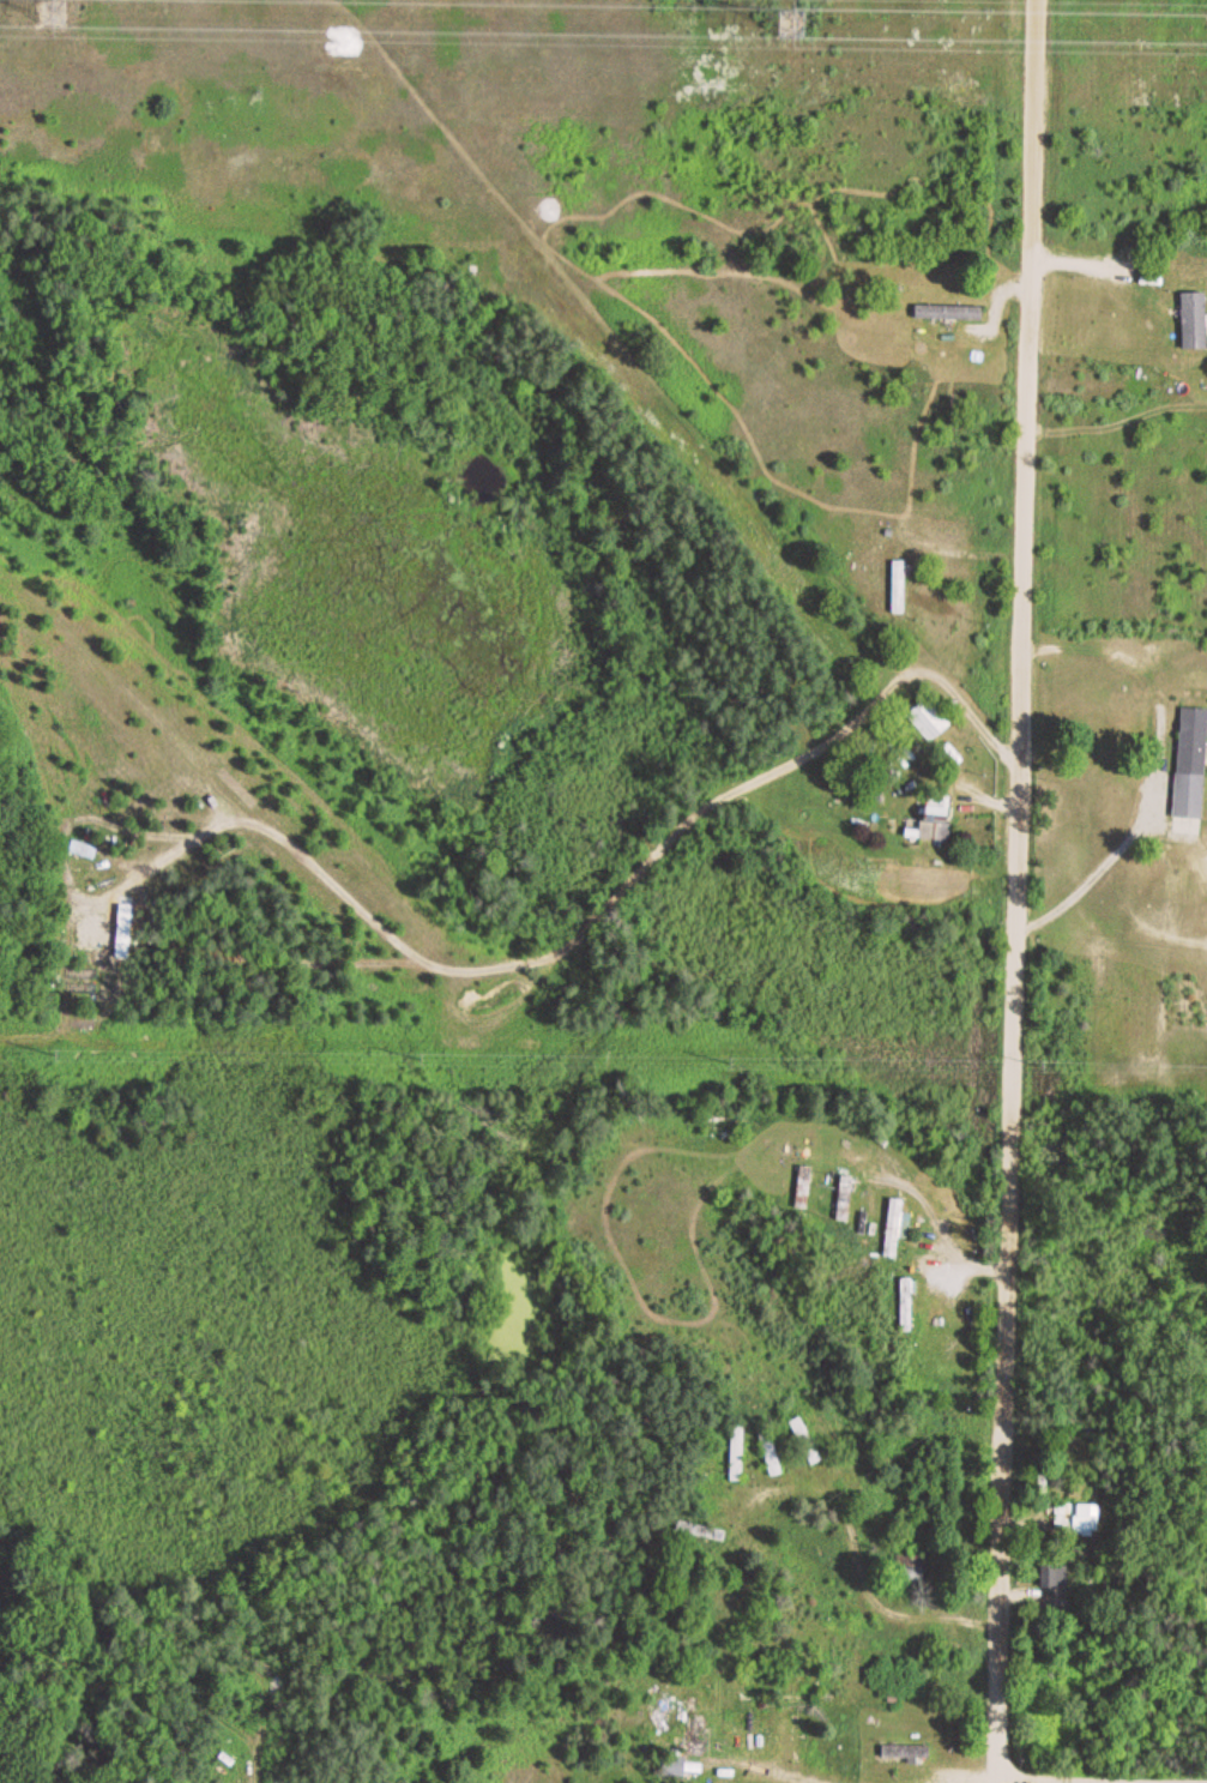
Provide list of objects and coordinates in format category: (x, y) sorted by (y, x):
power tower: (59, 7)
power tower: (792, 16)
building: (950, 312)
building: (1195, 321)
building: (899, 586)
building: (930, 719)
building: (1194, 765)
building: (939, 824)
road: (1015, 891)
building: (804, 1188)
building: (845, 1198)
building: (873, 1203)
building: (895, 1228)
building: (909, 1303)
building: (807, 1440)
building: (846, 1444)
building: (771, 1448)
building: (738, 1452)
building: (1075, 1518)
building: (701, 1530)
building: (696, 1735)
building: (909, 1752)
building: (283, 1778)
road: (1100, 1779)

